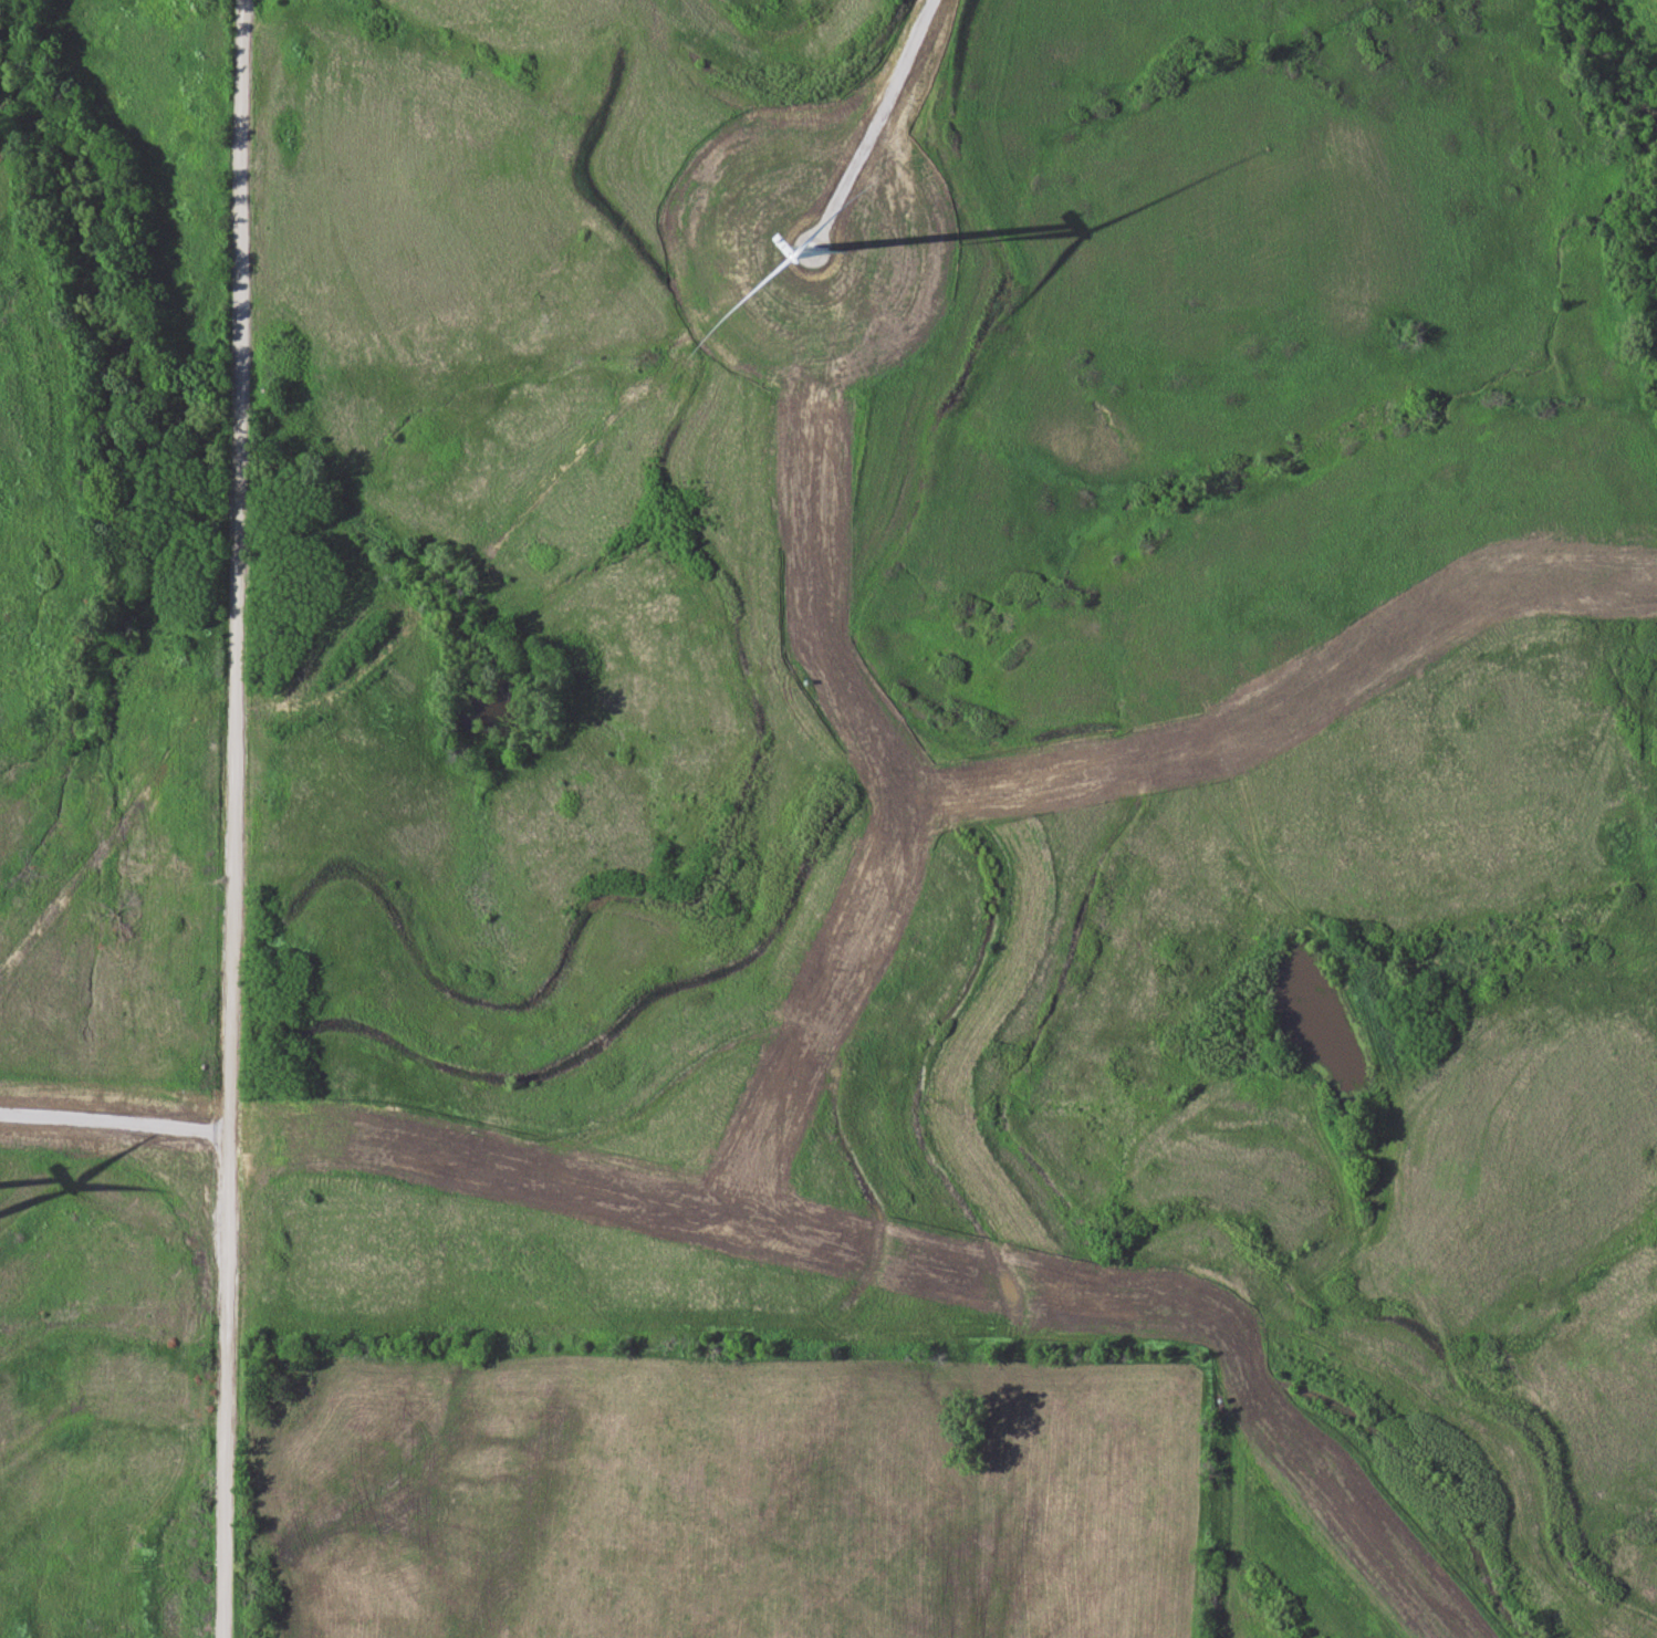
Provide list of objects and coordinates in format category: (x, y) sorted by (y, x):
wind turbine: (807, 257)
road: (229, 818)

